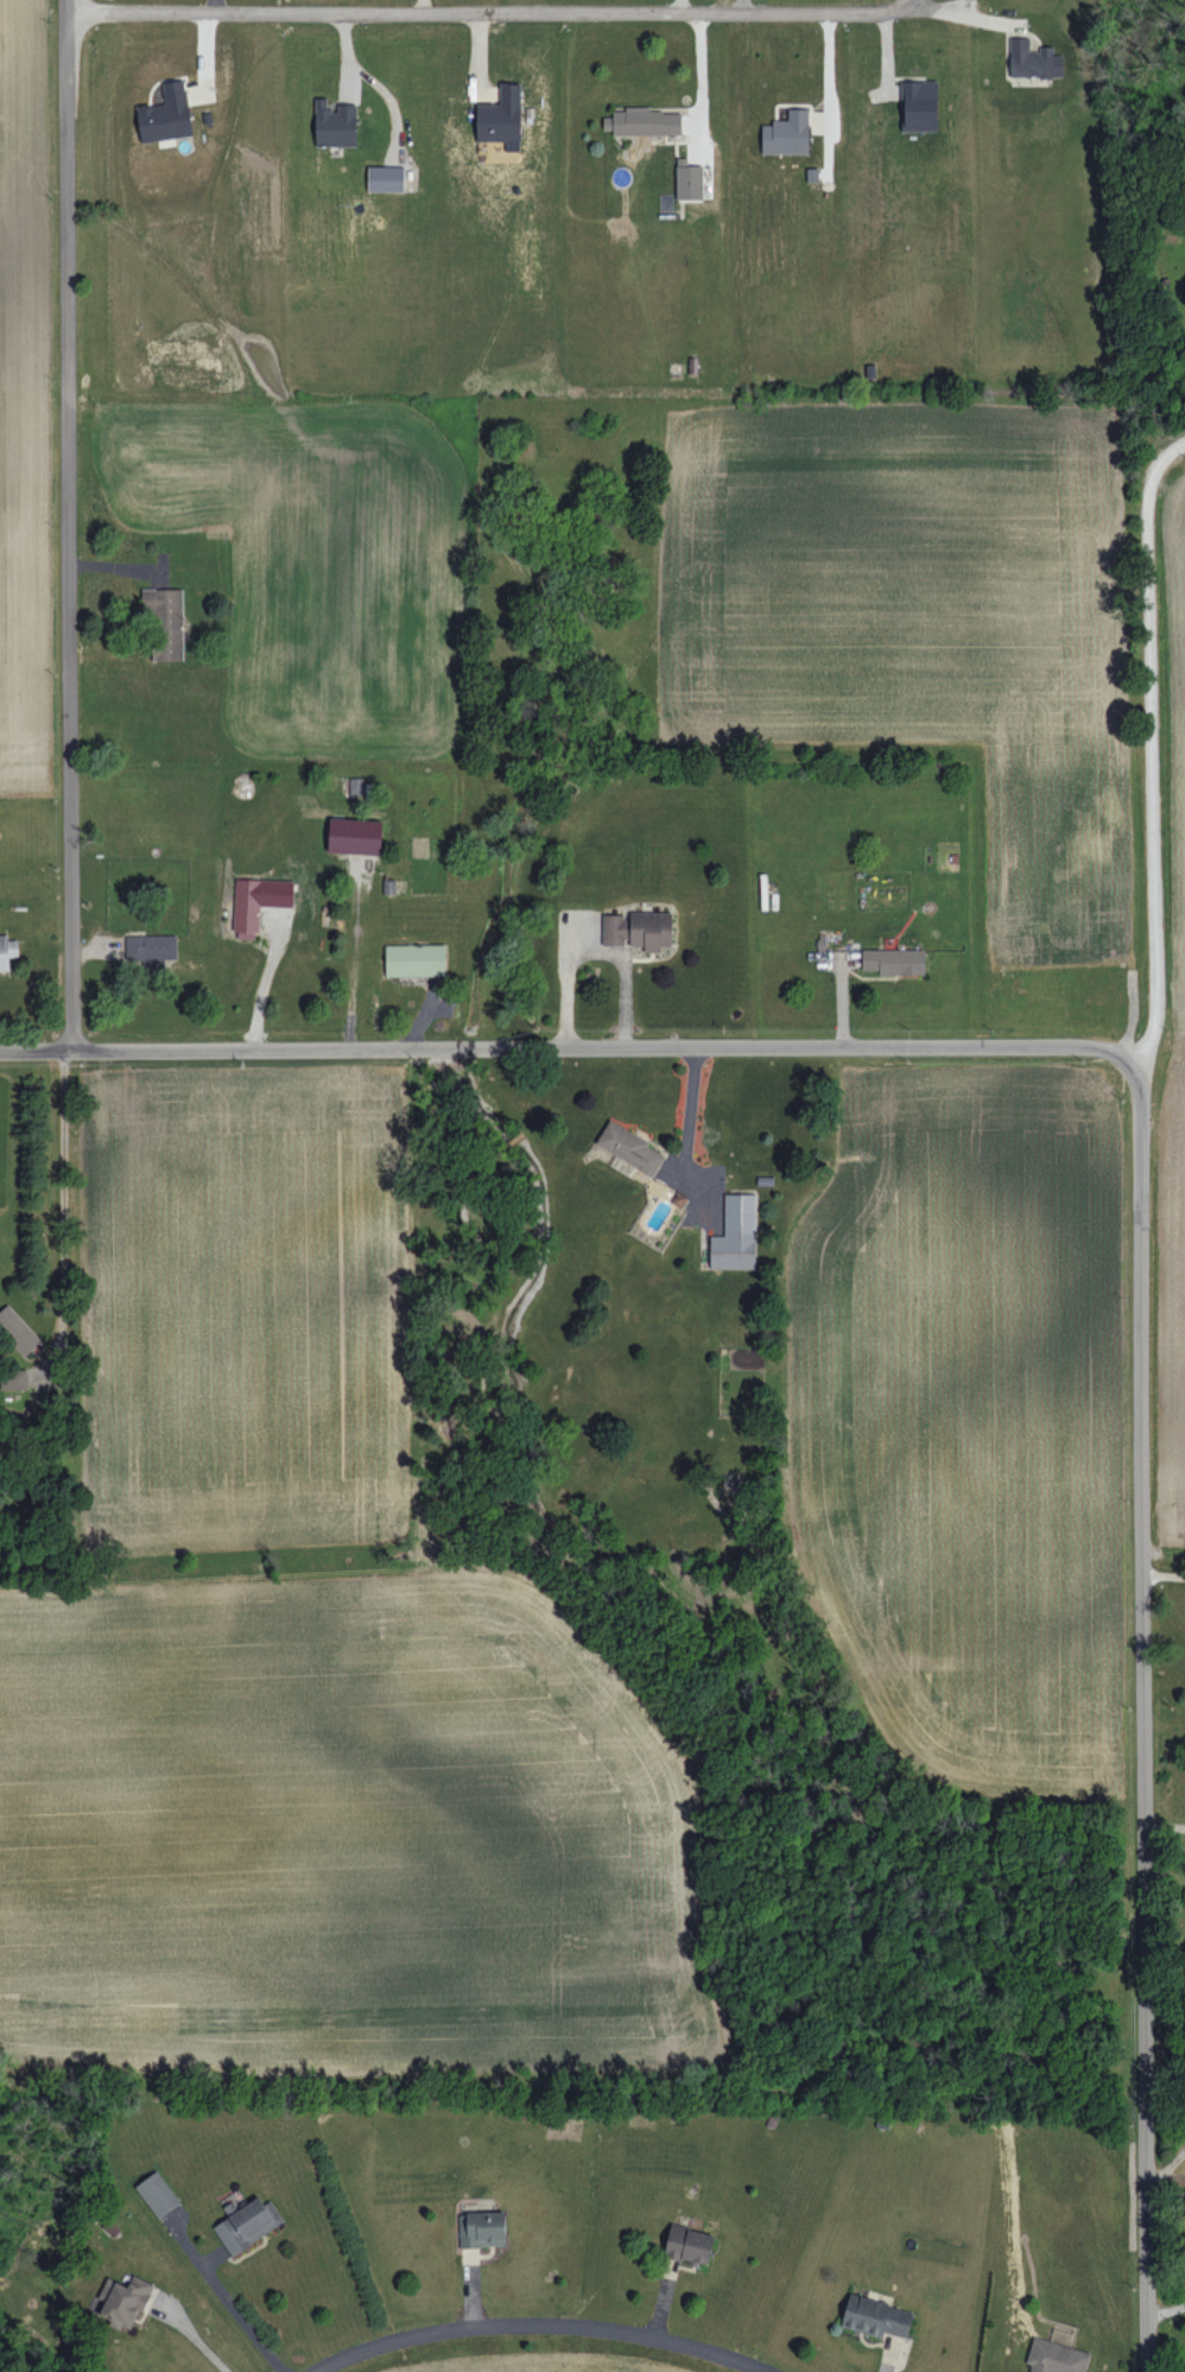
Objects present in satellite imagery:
road: (914, 6)
road: (520, 13)
building: (1033, 59)
building: (919, 106)
building: (166, 114)
building: (501, 115)
building: (645, 121)
building: (335, 123)
building: (786, 133)
building: (386, 178)
building: (689, 179)
road: (592, 467)
road: (70, 522)
building: (165, 621)
road: (340, 668)
road: (1152, 748)
building: (356, 786)
building: (355, 836)
building: (258, 902)
building: (639, 930)
building: (151, 949)
building: (7, 951)
building: (416, 959)
building: (893, 960)
road: (565, 1046)
building: (630, 1148)
road: (63, 1207)
building: (736, 1233)
building: (18, 1331)
building: (15, 1378)
road: (1138, 1714)
road: (1162, 1826)
building: (158, 2194)
building: (247, 2224)
building: (482, 2228)
building: (690, 2245)
building: (122, 2300)
road: (1165, 2311)
building: (876, 2316)
road: (243, 2322)
road: (540, 2323)
road: (202, 2342)
building: (1056, 2357)

